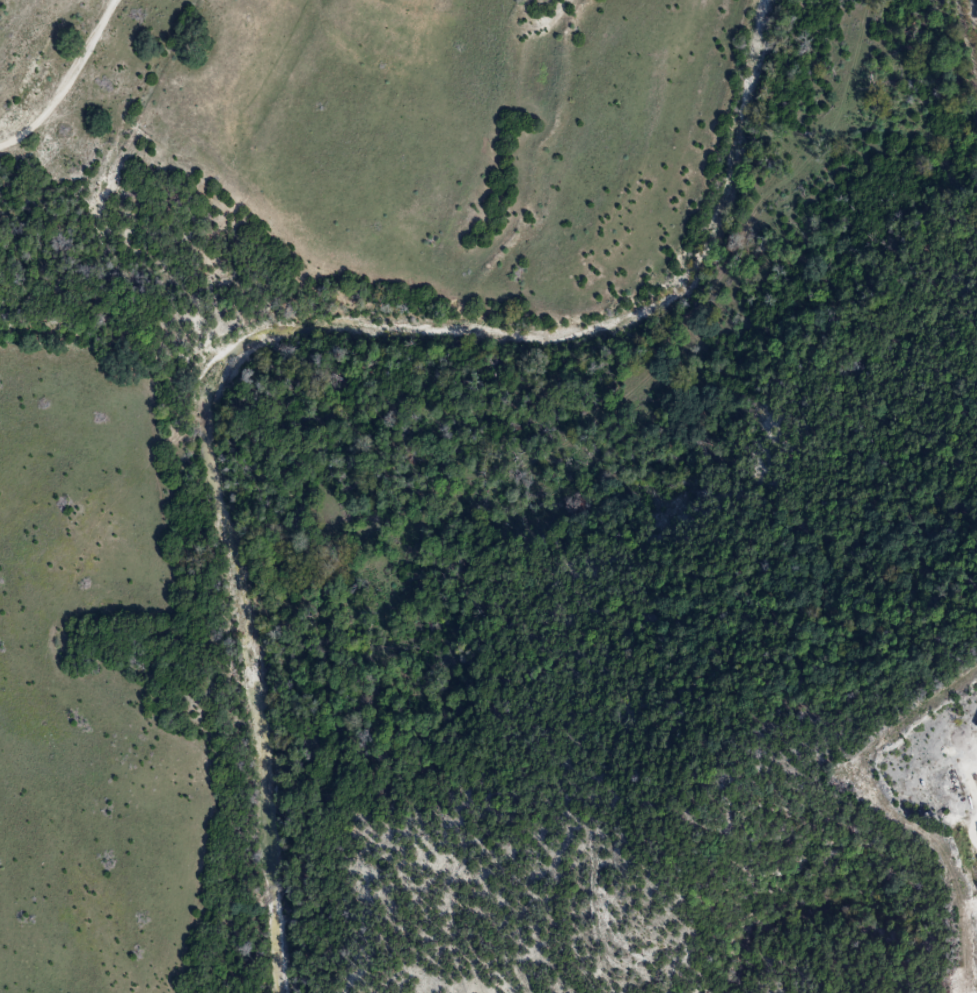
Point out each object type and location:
quarry: (936, 789)
building: (976, 827)

